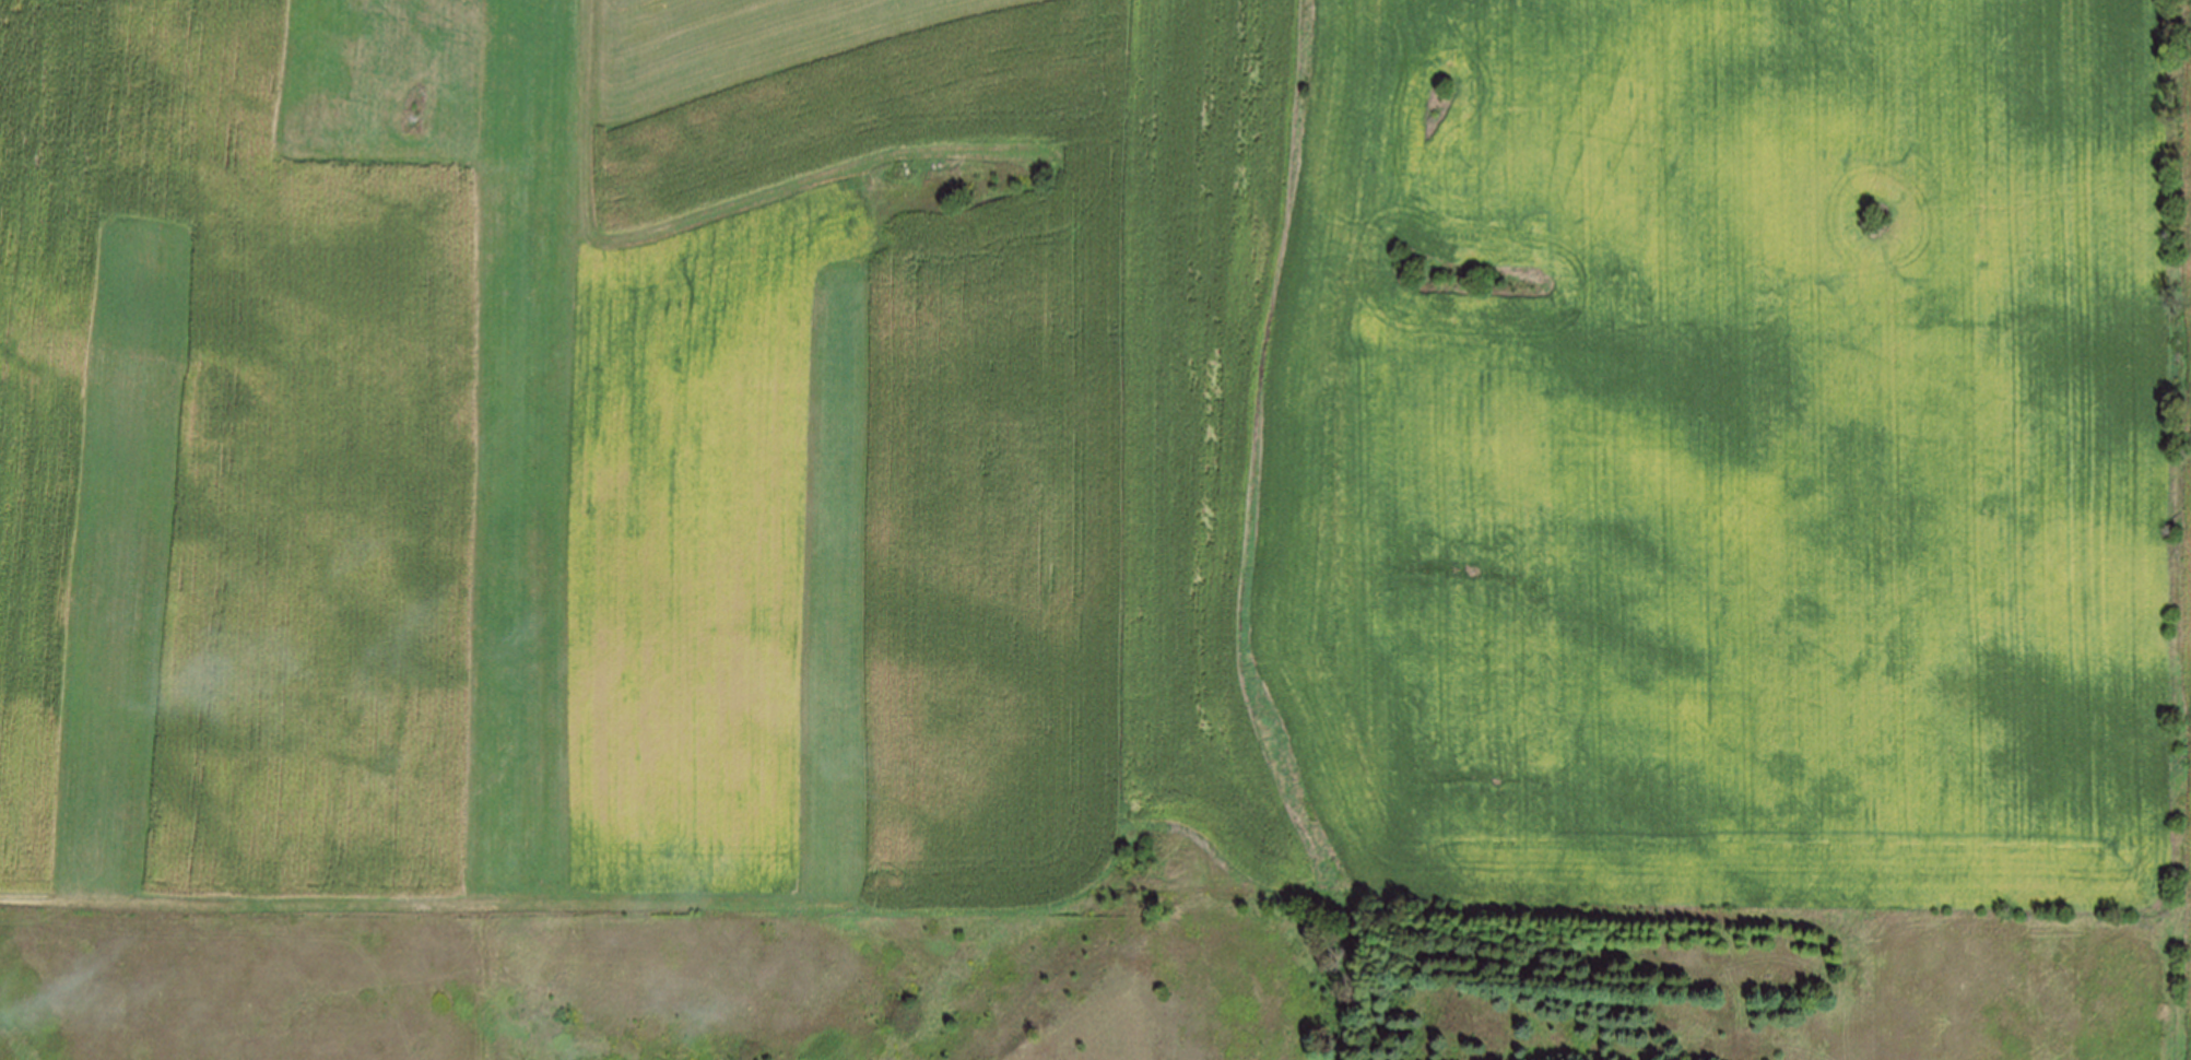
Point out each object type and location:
road: (90, 61)
road: (587, 118)

